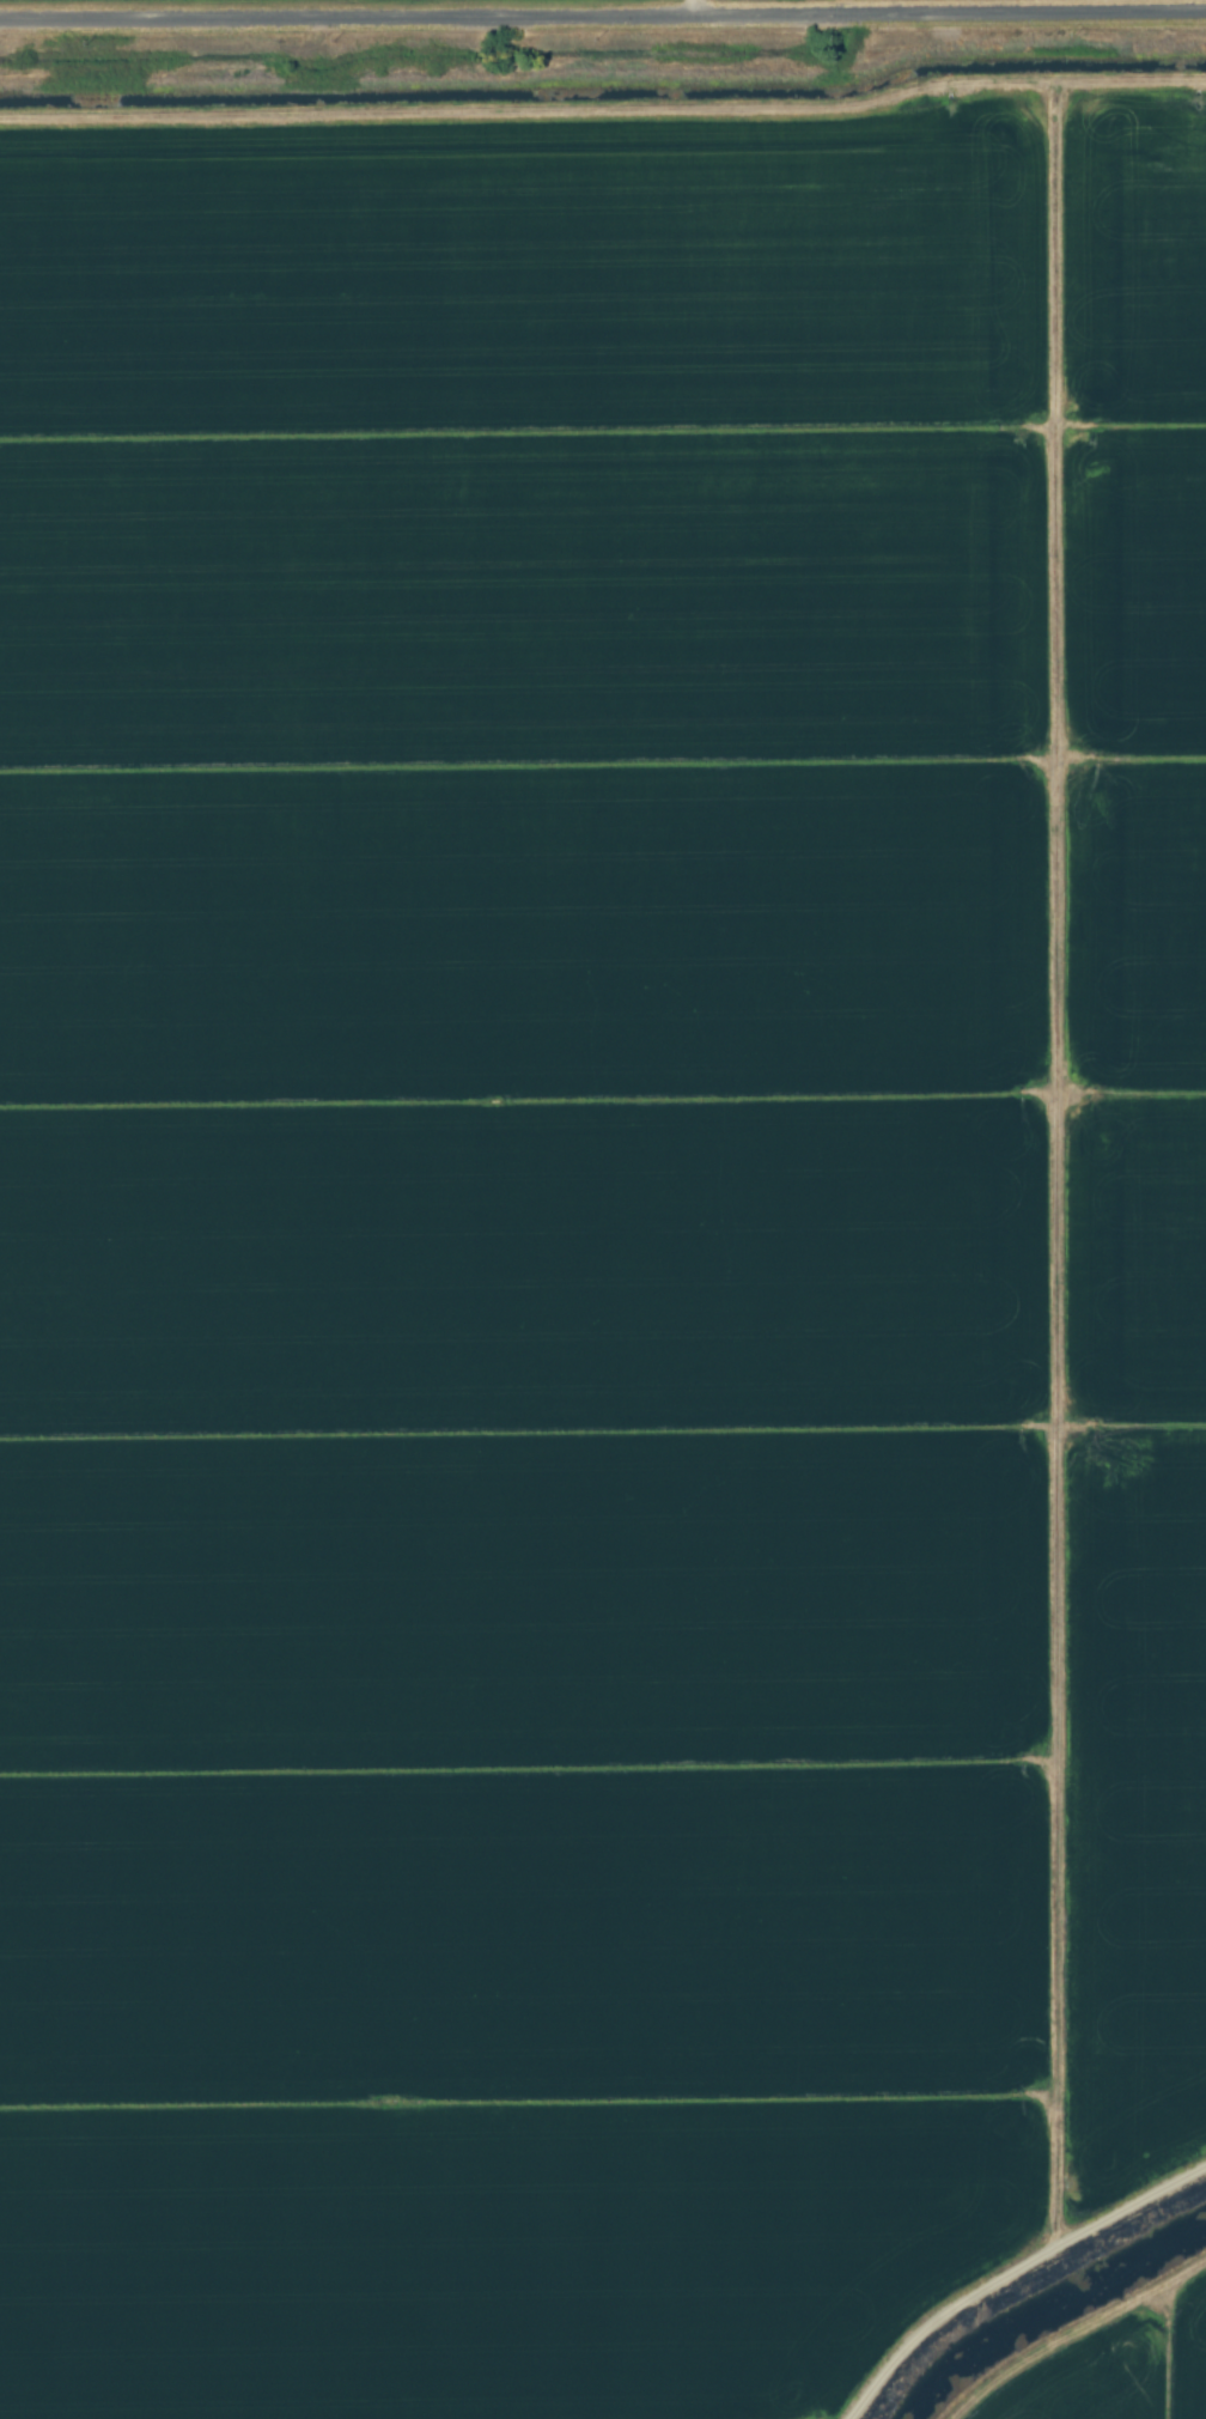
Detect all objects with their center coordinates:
road: (603, 23)

